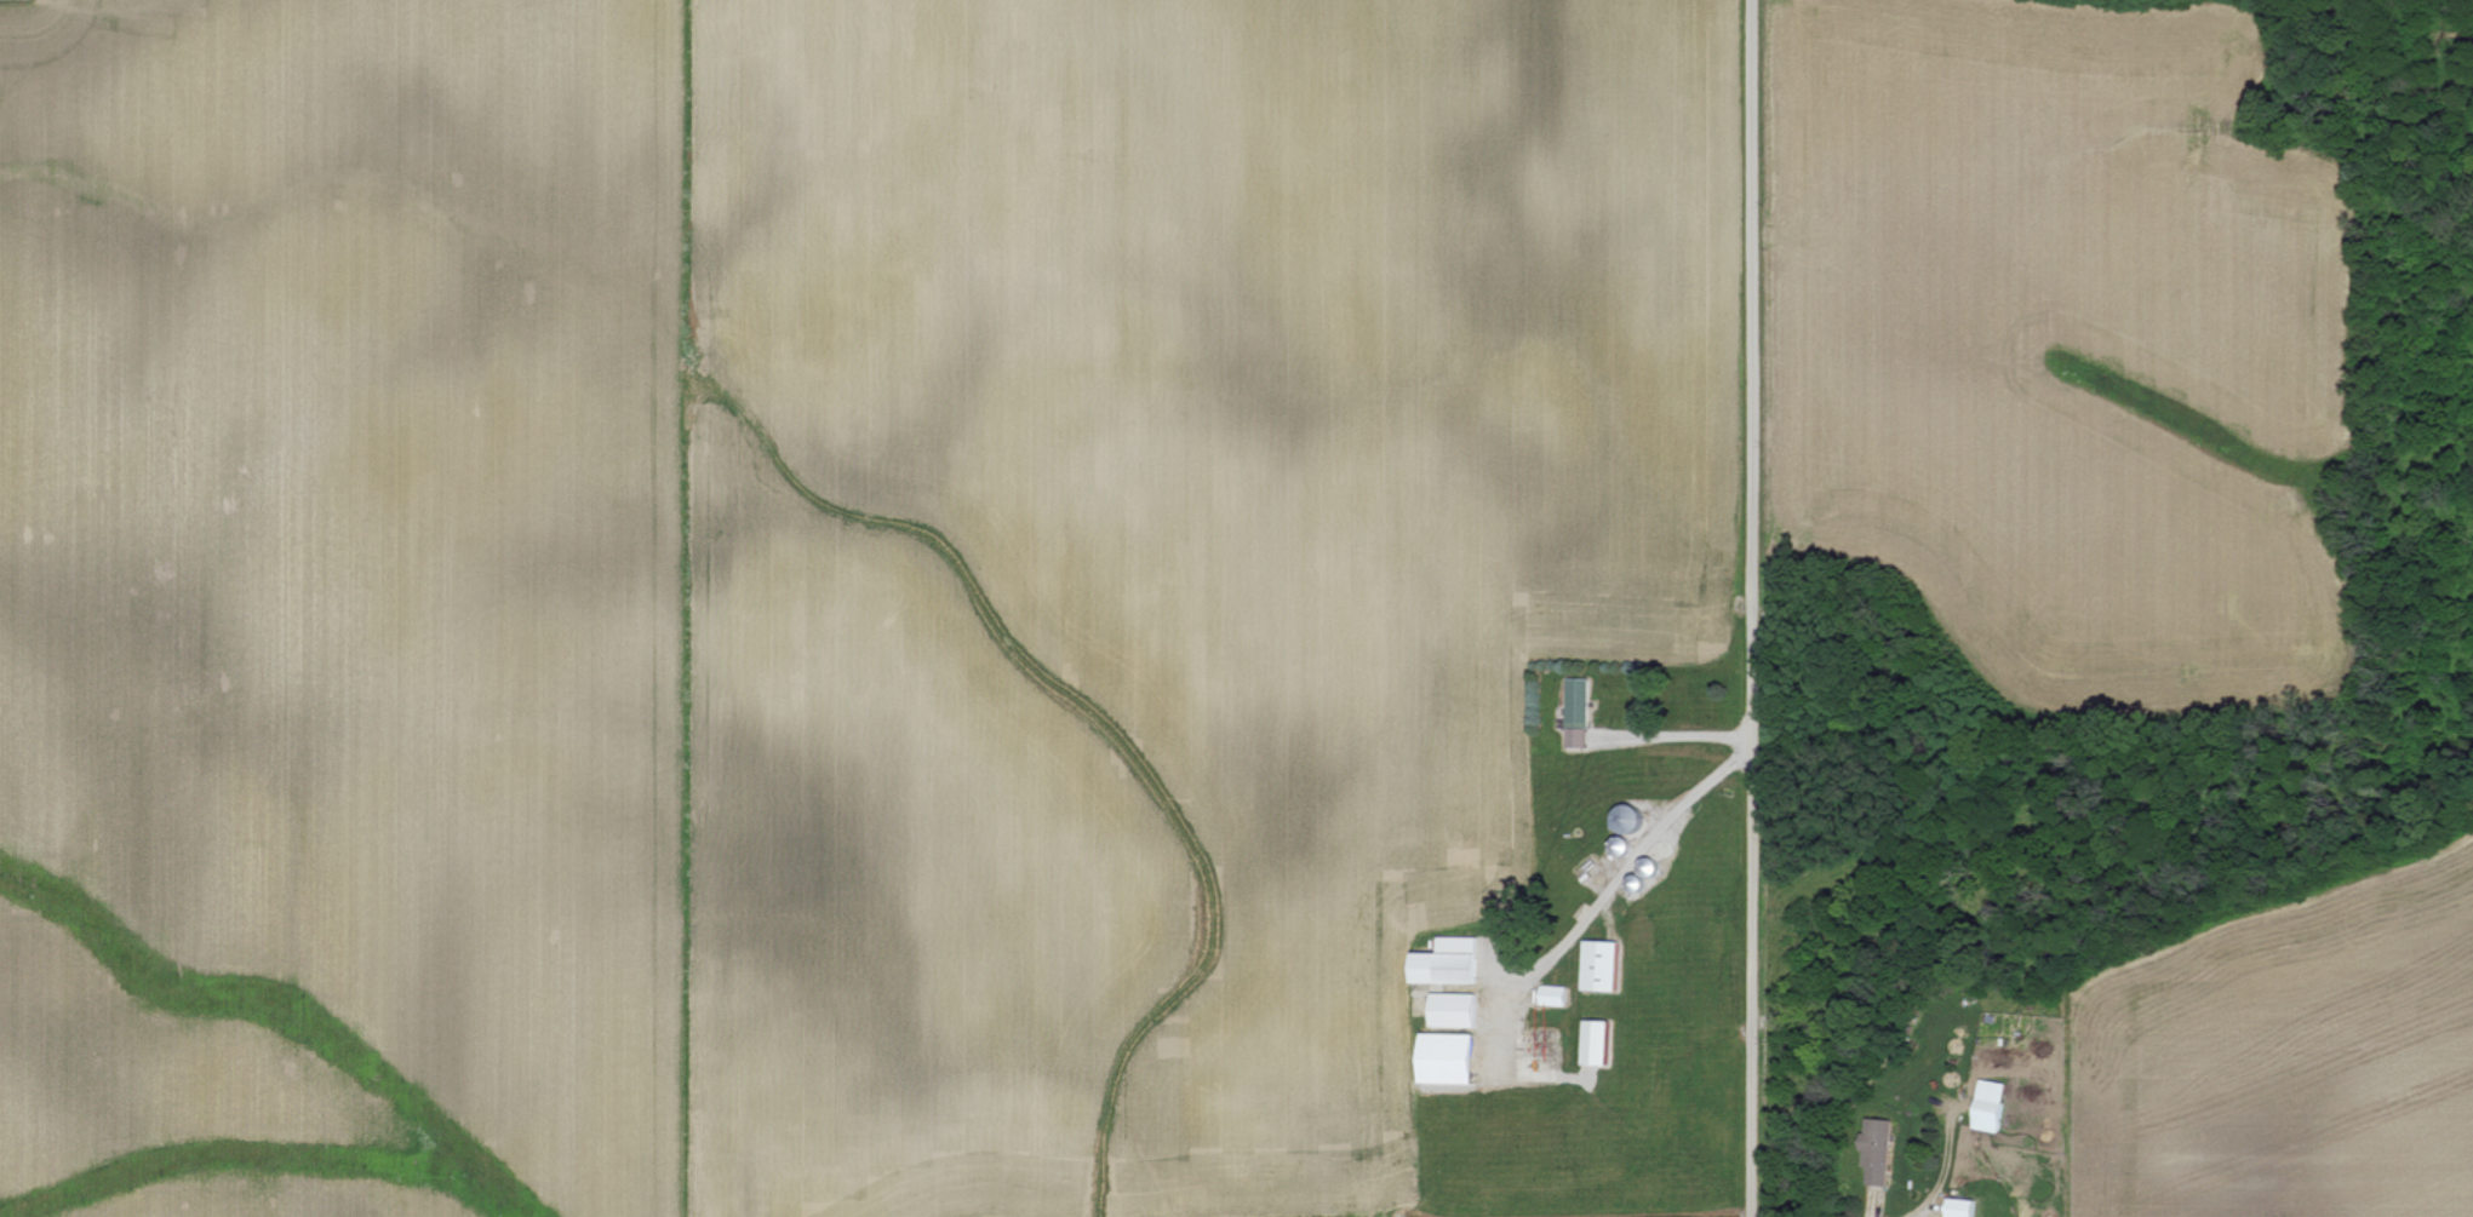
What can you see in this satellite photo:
road: (1748, 608)
building: (1578, 711)
road: (1664, 731)
road: (1631, 862)
building: (1450, 961)
building: (1603, 965)
building: (1455, 1009)
building: (1599, 1041)
building: (1450, 1057)
building: (1991, 1104)
building: (1878, 1150)
road: (1876, 1207)
building: (1963, 1207)

